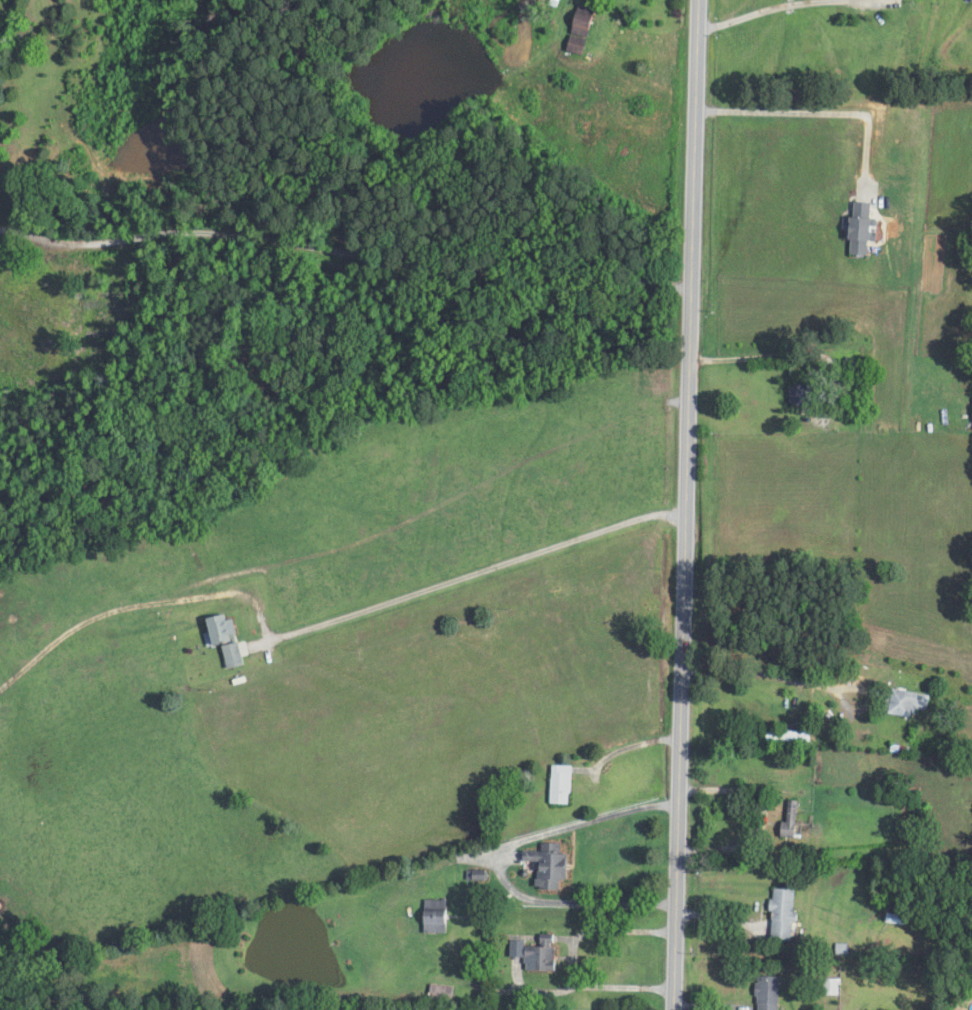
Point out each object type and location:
building: (584, 20)
building: (852, 228)
road: (347, 244)
building: (797, 394)
building: (970, 413)
road: (690, 505)
building: (217, 637)
building: (900, 704)
building: (785, 735)
building: (560, 784)
building: (785, 821)
building: (548, 865)
building: (780, 904)
building: (434, 916)
building: (840, 942)
building: (540, 954)
building: (829, 981)
building: (766, 987)
building: (441, 994)

